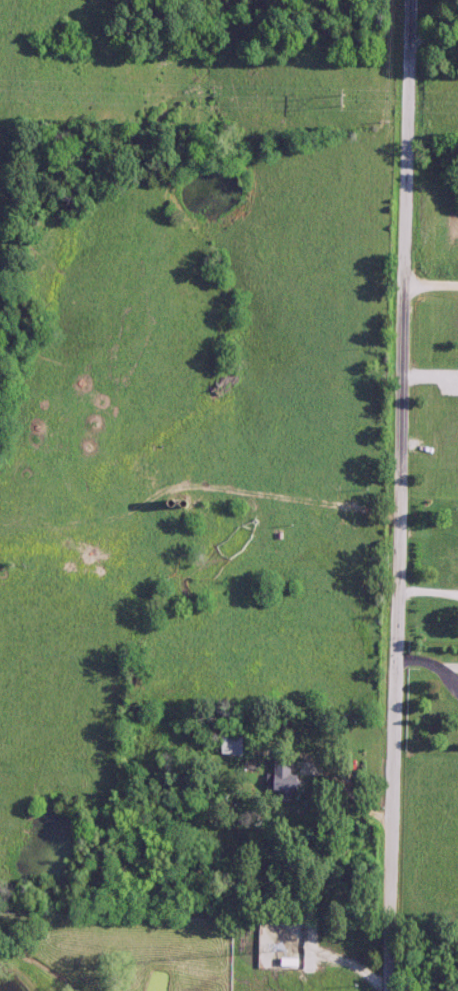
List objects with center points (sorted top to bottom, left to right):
road: (435, 40)
road: (429, 282)
road: (403, 495)
building: (226, 745)
building: (279, 778)

